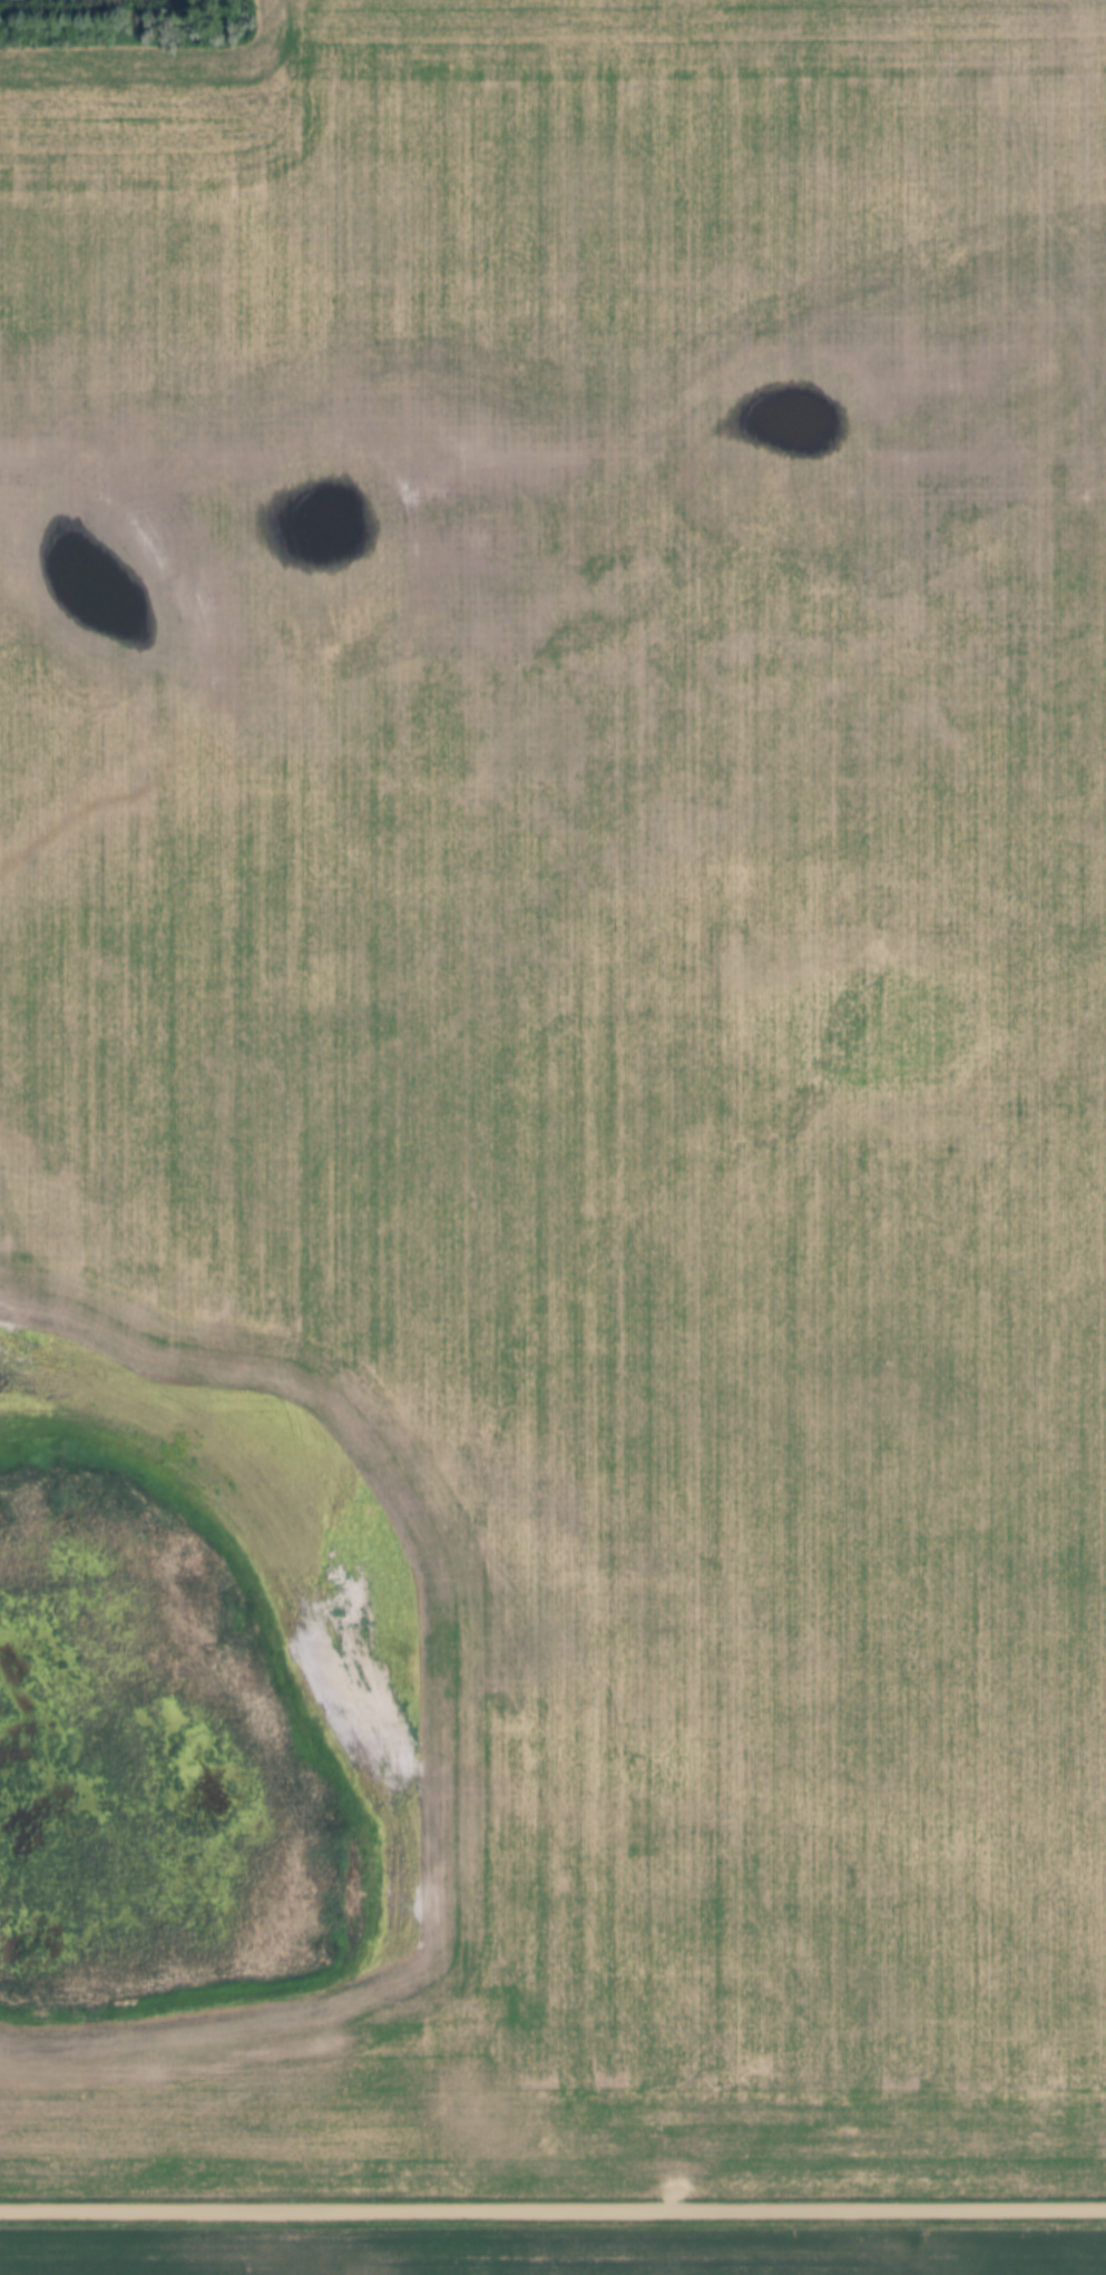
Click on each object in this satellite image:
road: (552, 2211)

